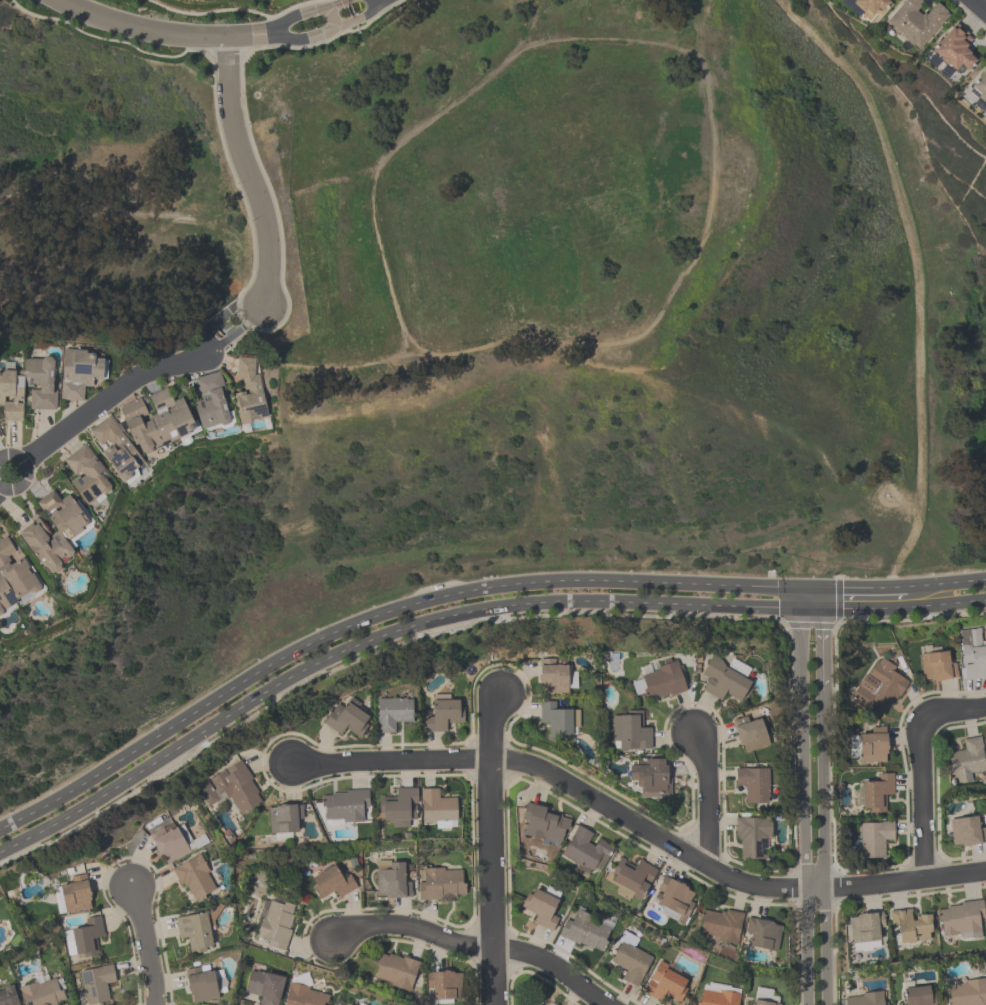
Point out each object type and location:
building: (870, 7)
road: (978, 7)
building: (918, 23)
road: (214, 35)
building: (956, 52)
building: (980, 86)
road: (247, 172)
road: (233, 308)
road: (244, 325)
road: (203, 340)
road: (211, 347)
building: (80, 373)
building: (29, 388)
building: (250, 392)
road: (105, 398)
building: (213, 402)
building: (142, 432)
road: (26, 471)
building: (87, 476)
building: (38, 552)
road: (947, 584)
road: (859, 588)
traffic signals: (842, 589)
road: (811, 598)
road: (898, 608)
traffic signals: (778, 609)
road: (378, 616)
traffic signals: (822, 631)
road: (378, 638)
road: (822, 648)
building: (973, 655)
building: (938, 667)
building: (556, 678)
building: (725, 679)
building: (661, 682)
building: (881, 688)
building: (394, 714)
building: (444, 716)
building: (348, 720)
building: (559, 720)
building: (629, 732)
building: (751, 735)
building: (870, 746)
building: (968, 760)
road: (921, 765)
building: (650, 778)
building: (754, 785)
building: (239, 790)
building: (875, 793)
road: (704, 802)
road: (805, 805)
building: (344, 807)
building: (400, 808)
building: (437, 810)
building: (286, 819)
building: (547, 825)
road: (637, 826)
building: (967, 832)
building: (754, 837)
building: (875, 839)
building: (173, 843)
road: (823, 848)
road: (491, 850)
building: (587, 850)
building: (195, 878)
building: (392, 880)
building: (633, 880)
building: (333, 883)
building: (441, 884)
building: (73, 896)
building: (674, 900)
building: (542, 909)
building: (960, 921)
building: (276, 923)
building: (720, 925)
building: (911, 928)
building: (198, 931)
building: (587, 932)
building: (865, 932)
building: (763, 934)
building: (85, 938)
road: (145, 945)
road: (472, 947)
building: (631, 960)
building: (395, 971)
building: (666, 982)
building: (97, 984)
building: (205, 984)
building: (444, 986)
building: (265, 987)
building: (44, 993)
building: (966, 993)
building: (305, 995)
building: (9, 996)
building: (718, 996)
building: (919, 996)
building: (766, 998)
building: (866, 999)
building: (349, 1004)
building: (534, 1004)
building: (552, 1004)

